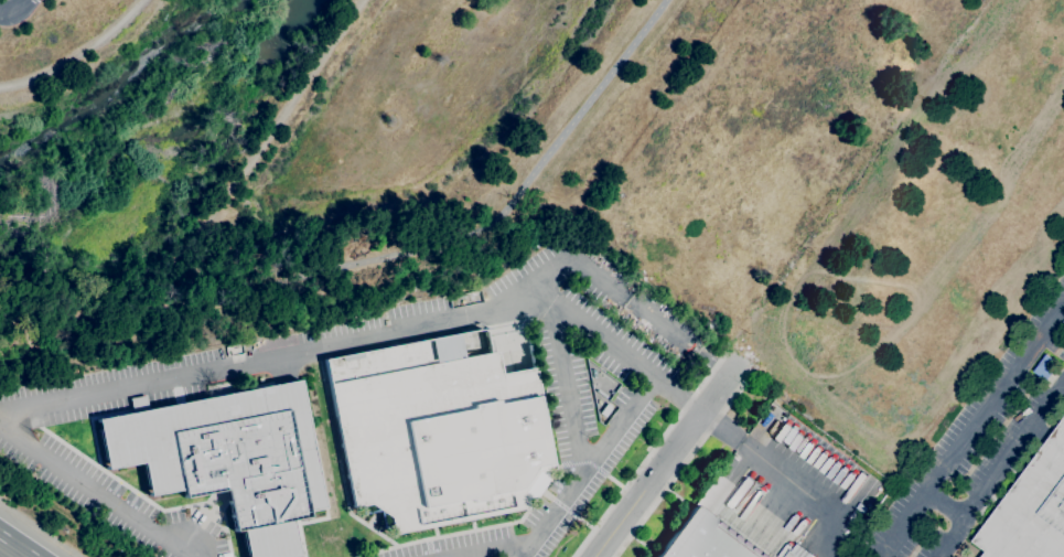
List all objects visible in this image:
road: (15, 10)
road: (76, 53)
river: (146, 75)
road: (244, 165)
road: (381, 263)
road: (271, 356)
building: (1046, 367)
building: (592, 373)
road: (20, 377)
road: (565, 385)
building: (601, 393)
road: (683, 401)
building: (604, 409)
road: (972, 426)
building: (436, 432)
road: (651, 452)
building: (227, 458)
road: (667, 458)
road: (685, 463)
road: (587, 467)
road: (999, 469)
road: (944, 504)
building: (1031, 510)
road: (826, 534)
building: (705, 539)
road: (11, 548)
road: (492, 553)
building: (793, 555)

